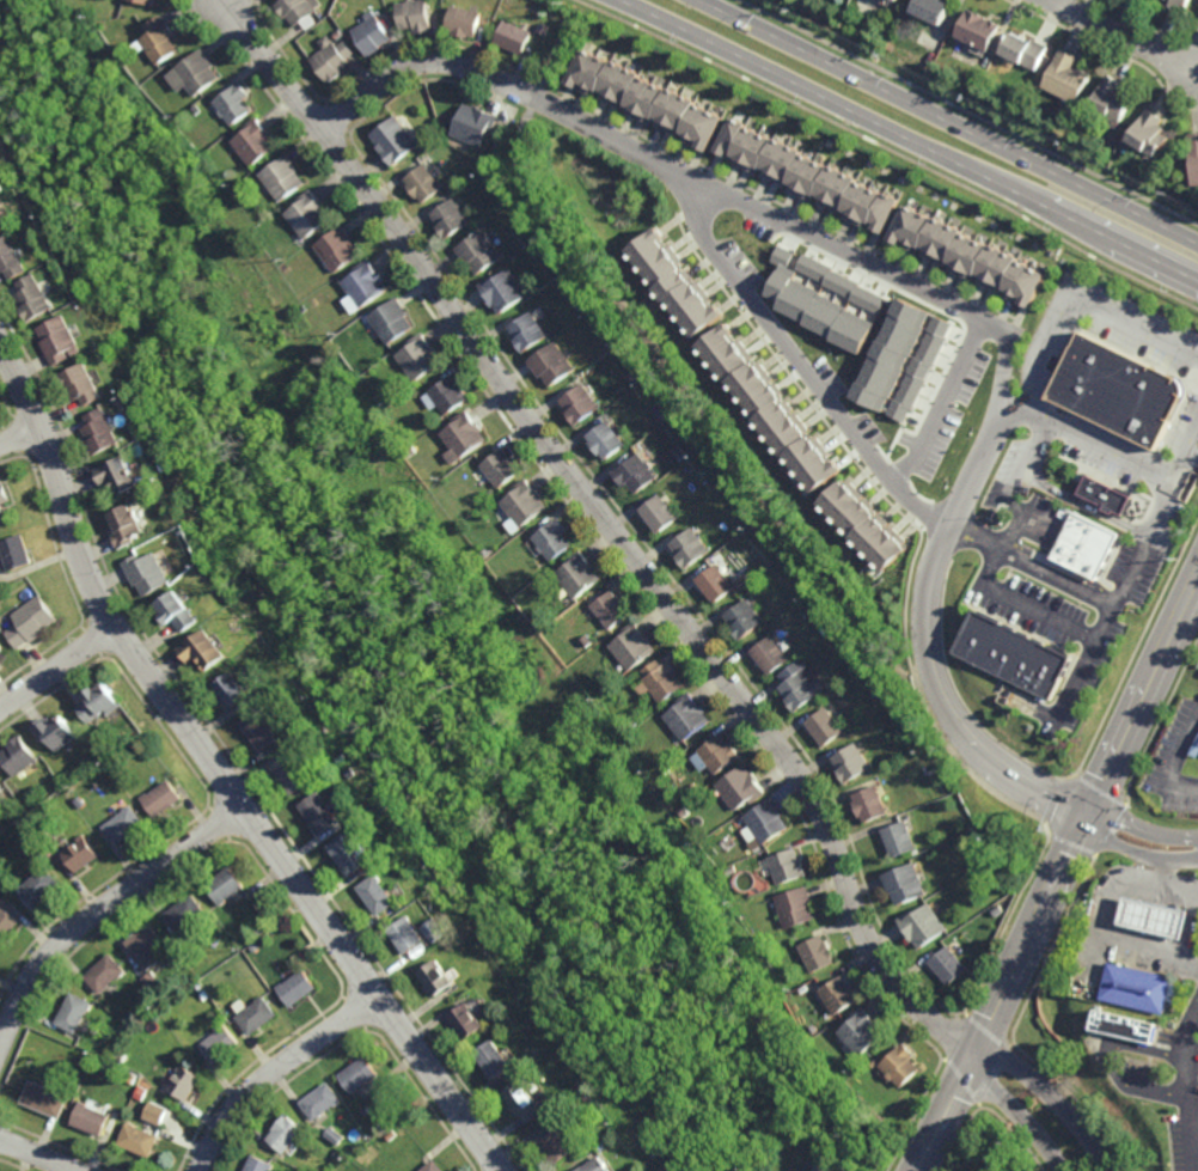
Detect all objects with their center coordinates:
building: (900, 0)
building: (148, 1)
building: (1180, 2)
building: (931, 7)
building: (295, 8)
building: (416, 14)
building: (464, 19)
building: (542, 26)
building: (978, 26)
building: (372, 32)
building: (513, 36)
road: (1121, 36)
building: (158, 38)
building: (1023, 48)
building: (331, 61)
building: (1008, 66)
building: (194, 72)
building: (1065, 74)
building: (644, 97)
building: (1112, 98)
building: (234, 102)
building: (196, 109)
road: (948, 121)
building: (475, 123)
building: (1148, 132)
road: (909, 138)
building: (395, 139)
building: (256, 141)
building: (1194, 153)
building: (807, 173)
building: (283, 177)
building: (454, 179)
building: (423, 182)
building: (1, 187)
building: (310, 213)
building: (451, 218)
building: (2, 220)
building: (538, 242)
building: (338, 248)
building: (479, 251)
building: (968, 254)
building: (11, 258)
building: (677, 283)
building: (846, 285)
building: (365, 286)
building: (505, 291)
road: (922, 291)
building: (32, 297)
building: (581, 305)
building: (818, 306)
building: (392, 321)
road: (1135, 327)
building: (525, 331)
building: (59, 340)
building: (609, 342)
road: (1049, 353)
building: (893, 354)
building: (421, 356)
building: (550, 364)
road: (803, 365)
building: (922, 368)
building: (634, 376)
building: (80, 384)
building: (1119, 392)
building: (450, 395)
road: (942, 401)
building: (576, 404)
building: (772, 408)
building: (662, 413)
building: (99, 431)
road: (22, 433)
building: (464, 438)
building: (603, 440)
building: (412, 452)
building: (678, 452)
road: (1185, 457)
building: (501, 469)
building: (632, 474)
building: (118, 475)
building: (4, 494)
building: (493, 494)
building: (1106, 496)
building: (520, 505)
road: (1084, 505)
building: (656, 513)
building: (2, 514)
building: (127, 524)
road: (612, 526)
building: (867, 527)
building: (756, 529)
road: (1145, 536)
building: (551, 541)
building: (1087, 547)
building: (687, 549)
building: (17, 551)
road: (1001, 554)
road: (1034, 562)
building: (147, 573)
building: (577, 577)
building: (236, 579)
building: (713, 584)
building: (177, 610)
building: (610, 611)
building: (33, 621)
building: (742, 621)
building: (586, 642)
building: (2, 647)
building: (632, 647)
building: (202, 652)
building: (1019, 653)
building: (769, 657)
building: (858, 665)
road: (57, 669)
building: (666, 682)
building: (232, 685)
building: (799, 688)
building: (882, 696)
building: (99, 702)
building: (692, 713)
building: (824, 725)
building: (262, 727)
building: (56, 730)
building: (1196, 749)
building: (725, 750)
building: (20, 754)
building: (343, 757)
road: (1175, 758)
building: (851, 760)
building: (936, 769)
road: (219, 771)
building: (293, 771)
building: (352, 771)
building: (744, 783)
building: (698, 785)
building: (1, 788)
building: (161, 794)
building: (82, 799)
building: (870, 801)
building: (322, 811)
traffic signals: (1089, 818)
building: (765, 819)
building: (124, 822)
road: (1093, 822)
building: (899, 835)
building: (84, 850)
building: (349, 852)
building: (786, 864)
building: (732, 867)
road: (1167, 873)
road: (1059, 879)
building: (904, 882)
building: (41, 883)
building: (226, 883)
building: (379, 894)
building: (796, 904)
road: (99, 908)
building: (997, 909)
building: (187, 910)
building: (1157, 916)
gas station: (1157, 916)
building: (6, 920)
road: (1107, 920)
building: (922, 923)
building: (409, 933)
building: (147, 943)
building: (256, 946)
building: (819, 951)
building: (947, 963)
building: (104, 970)
building: (439, 976)
building: (154, 980)
building: (300, 986)
building: (1139, 986)
building: (841, 993)
building: (170, 1008)
building: (74, 1010)
building: (129, 1014)
building: (259, 1014)
building: (470, 1020)
building: (1127, 1024)
building: (814, 1027)
building: (863, 1029)
building: (222, 1042)
building: (121, 1054)
building: (103, 1059)
building: (496, 1059)
building: (875, 1062)
road: (1112, 1062)
building: (112, 1063)
building: (900, 1063)
road: (275, 1071)
building: (360, 1074)
road: (1192, 1074)
building: (133, 1075)
building: (184, 1081)
building: (142, 1090)
building: (45, 1098)
road: (1055, 1098)
road: (1196, 1099)
building: (324, 1100)
building: (527, 1100)
building: (368, 1110)
building: (157, 1111)
road: (1020, 1117)
building: (91, 1118)
building: (402, 1128)
building: (287, 1133)
building: (337, 1134)
building: (392, 1134)
building: (139, 1139)
building: (557, 1145)
park: (985, 1147)
building: (658, 1153)
road: (37, 1154)
building: (340, 1154)
building: (589, 1155)
building: (369, 1157)
building: (988, 1158)
building: (259, 1164)
building: (599, 1165)
building: (435, 1166)
building: (823, 1170)
building: (825, 1170)

